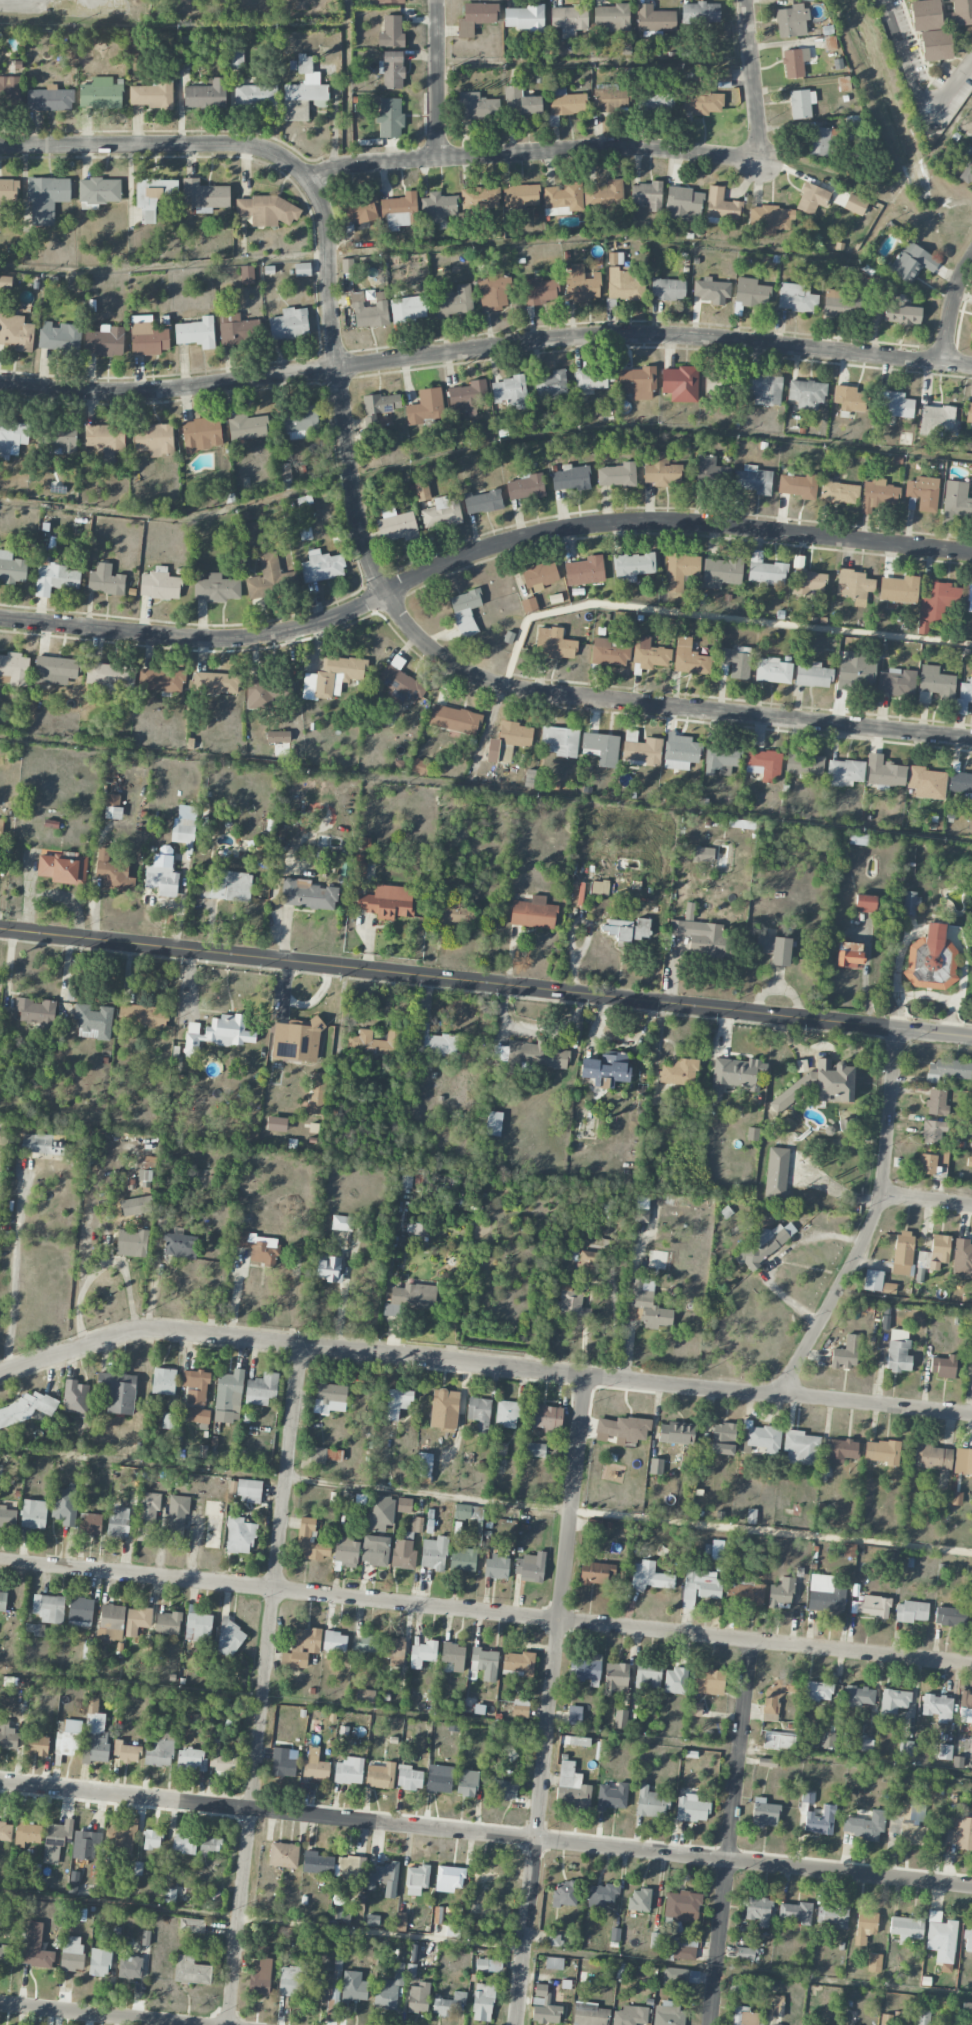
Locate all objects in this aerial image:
building: (812, 0)
road: (18, 1)
building: (391, 1)
building: (700, 12)
building: (960, 12)
building: (925, 15)
building: (475, 17)
building: (569, 17)
building: (611, 17)
building: (524, 18)
building: (654, 19)
building: (790, 21)
road: (185, 27)
building: (391, 31)
building: (935, 45)
building: (185, 52)
building: (794, 62)
road: (595, 63)
building: (392, 70)
building: (721, 75)
road: (439, 79)
road: (753, 81)
building: (844, 83)
road: (911, 85)
building: (9, 88)
building: (303, 93)
building: (100, 94)
building: (152, 94)
building: (206, 94)
building: (255, 95)
building: (511, 98)
building: (610, 98)
building: (49, 99)
building: (656, 101)
building: (566, 102)
building: (801, 103)
building: (703, 104)
building: (530, 105)
building: (476, 108)
building: (390, 117)
building: (553, 121)
building: (819, 141)
road: (535, 152)
building: (99, 190)
building: (8, 191)
building: (647, 195)
building: (153, 196)
building: (204, 196)
building: (564, 196)
building: (520, 197)
building: (604, 197)
building: (46, 198)
building: (480, 198)
building: (811, 198)
building: (683, 204)
building: (855, 204)
building: (721, 205)
building: (439, 206)
building: (361, 210)
building: (398, 210)
building: (269, 211)
building: (768, 220)
road: (535, 241)
building: (615, 258)
building: (911, 263)
building: (348, 266)
building: (302, 269)
building: (246, 274)
building: (625, 283)
building: (581, 284)
building: (667, 289)
building: (711, 290)
building: (538, 291)
building: (492, 292)
building: (751, 292)
building: (796, 298)
building: (455, 302)
building: (845, 304)
road: (951, 307)
building: (408, 308)
building: (369, 311)
building: (903, 313)
building: (289, 324)
building: (237, 329)
building: (15, 332)
building: (196, 333)
building: (59, 337)
building: (148, 339)
building: (104, 341)
road: (485, 348)
building: (592, 377)
building: (637, 382)
building: (551, 384)
building: (680, 384)
building: (721, 385)
building: (764, 388)
building: (510, 391)
building: (807, 394)
building: (466, 397)
building: (849, 399)
building: (381, 403)
building: (896, 405)
building: (425, 407)
building: (969, 413)
building: (937, 420)
building: (298, 422)
building: (247, 427)
building: (201, 434)
building: (12, 437)
building: (104, 437)
building: (61, 438)
building: (153, 439)
road: (483, 448)
building: (709, 470)
building: (662, 471)
building: (432, 472)
building: (971, 474)
building: (617, 475)
building: (285, 476)
building: (571, 478)
building: (753, 480)
building: (798, 485)
building: (526, 486)
building: (838, 492)
building: (923, 493)
building: (878, 495)
building: (957, 499)
building: (483, 502)
building: (441, 513)
building: (396, 525)
building: (250, 534)
road: (362, 538)
road: (479, 551)
building: (632, 566)
building: (322, 567)
building: (11, 568)
building: (680, 570)
building: (585, 571)
building: (721, 571)
building: (765, 571)
building: (58, 576)
building: (540, 576)
building: (265, 577)
building: (105, 580)
building: (809, 581)
building: (159, 584)
building: (854, 585)
building: (216, 588)
building: (899, 589)
building: (969, 598)
building: (936, 604)
building: (529, 605)
building: (465, 611)
road: (659, 612)
building: (554, 643)
building: (608, 652)
building: (650, 654)
building: (689, 658)
building: (735, 661)
building: (14, 669)
building: (55, 670)
building: (772, 671)
building: (813, 675)
building: (110, 676)
building: (333, 677)
building: (855, 677)
building: (161, 680)
building: (896, 682)
building: (215, 683)
building: (400, 684)
building: (935, 684)
building: (259, 690)
building: (964, 696)
building: (454, 719)
building: (278, 736)
building: (512, 739)
building: (560, 741)
building: (601, 748)
building: (643, 752)
building: (680, 752)
building: (721, 758)
building: (764, 764)
building: (804, 765)
building: (419, 766)
building: (844, 772)
building: (884, 772)
building: (960, 782)
building: (926, 783)
road: (485, 788)
building: (112, 801)
building: (185, 826)
building: (0, 829)
building: (703, 854)
building: (359, 866)
building: (113, 872)
building: (162, 880)
building: (225, 885)
building: (599, 887)
building: (307, 894)
building: (387, 902)
building: (910, 902)
building: (865, 903)
building: (457, 912)
building: (533, 913)
building: (630, 929)
building: (698, 933)
building: (773, 948)
building: (849, 955)
building: (931, 959)
road: (485, 985)
building: (36, 1012)
building: (143, 1015)
building: (93, 1022)
building: (218, 1033)
building: (296, 1040)
building: (436, 1042)
building: (375, 1043)
building: (532, 1055)
building: (605, 1070)
building: (948, 1070)
building: (678, 1072)
building: (735, 1075)
building: (833, 1081)
building: (793, 1092)
building: (317, 1093)
building: (936, 1102)
building: (493, 1123)
building: (276, 1124)
building: (933, 1131)
building: (752, 1134)
building: (40, 1144)
building: (932, 1160)
building: (150, 1163)
building: (776, 1173)
road: (926, 1200)
building: (136, 1206)
building: (642, 1210)
road: (873, 1222)
building: (342, 1223)
building: (132, 1243)
building: (763, 1244)
building: (180, 1246)
building: (940, 1248)
building: (266, 1250)
building: (902, 1252)
building: (962, 1258)
building: (589, 1263)
road: (14, 1265)
building: (329, 1269)
building: (872, 1280)
building: (888, 1288)
building: (410, 1298)
building: (572, 1304)
road: (903, 1304)
building: (647, 1305)
building: (898, 1351)
building: (845, 1353)
road: (482, 1364)
building: (943, 1366)
building: (163, 1381)
building: (196, 1386)
building: (261, 1389)
building: (118, 1391)
building: (228, 1396)
building: (74, 1397)
building: (330, 1398)
building: (398, 1402)
building: (28, 1408)
building: (444, 1408)
building: (479, 1413)
building: (506, 1414)
building: (198, 1415)
building: (546, 1418)
building: (168, 1421)
building: (622, 1429)
building: (676, 1433)
building: (722, 1438)
building: (764, 1438)
building: (800, 1448)
building: (499, 1449)
building: (535, 1449)
building: (841, 1450)
building: (881, 1452)
building: (325, 1455)
building: (933, 1457)
building: (963, 1462)
building: (425, 1463)
building: (656, 1466)
building: (246, 1490)
road: (496, 1502)
building: (404, 1505)
building: (65, 1506)
building: (381, 1510)
building: (468, 1512)
building: (33, 1514)
building: (8, 1516)
building: (147, 1517)
building: (177, 1519)
building: (118, 1520)
building: (90, 1524)
building: (239, 1535)
building: (311, 1541)
building: (347, 1550)
building: (375, 1550)
building: (849, 1550)
building: (434, 1553)
building: (403, 1554)
building: (463, 1559)
building: (497, 1567)
building: (531, 1568)
building: (597, 1573)
building: (648, 1576)
building: (699, 1586)
building: (781, 1593)
building: (744, 1594)
building: (826, 1594)
building: (2, 1600)
building: (873, 1606)
road: (560, 1607)
building: (48, 1608)
road: (486, 1611)
building: (911, 1611)
building: (950, 1616)
building: (137, 1620)
building: (110, 1622)
building: (167, 1623)
building: (198, 1627)
building: (34, 1629)
building: (228, 1638)
building: (334, 1641)
building: (303, 1645)
building: (366, 1645)
building: (394, 1651)
building: (423, 1653)
building: (453, 1655)
building: (519, 1662)
building: (484, 1663)
building: (586, 1667)
building: (648, 1676)
building: (616, 1678)
building: (674, 1681)
building: (708, 1682)
road: (265, 1685)
building: (817, 1691)
building: (365, 1696)
building: (776, 1696)
building: (859, 1696)
building: (895, 1700)
building: (937, 1707)
building: (520, 1708)
building: (694, 1709)
building: (965, 1709)
building: (574, 1715)
building: (620, 1719)
road: (485, 1722)
building: (7, 1736)
building: (67, 1737)
building: (95, 1739)
building: (827, 1739)
building: (779, 1741)
building: (37, 1745)
building: (905, 1748)
building: (125, 1751)
building: (944, 1752)
building: (159, 1753)
building: (191, 1759)
building: (222, 1759)
building: (284, 1762)
building: (767, 1763)
building: (315, 1765)
building: (348, 1771)
building: (380, 1775)
building: (408, 1778)
building: (439, 1779)
building: (466, 1783)
building: (571, 1786)
building: (504, 1790)
building: (612, 1797)
building: (650, 1803)
building: (691, 1808)
road: (268, 1811)
building: (764, 1813)
building: (820, 1821)
building: (911, 1821)
building: (865, 1826)
building: (5, 1831)
road: (729, 1832)
building: (28, 1833)
building: (960, 1833)
building: (122, 1836)
building: (152, 1839)
building: (56, 1840)
building: (184, 1843)
building: (83, 1845)
building: (209, 1845)
building: (283, 1855)
road: (755, 1862)
building: (317, 1863)
building: (350, 1872)
building: (384, 1878)
building: (416, 1879)
building: (450, 1879)
building: (565, 1894)
building: (601, 1895)
building: (639, 1900)
building: (682, 1906)
building: (757, 1910)
building: (795, 1912)
building: (833, 1915)
building: (191, 1925)
building: (865, 1926)
building: (907, 1928)
road: (527, 1932)
building: (969, 1934)
building: (554, 1940)
building: (941, 1940)
road: (485, 1945)
building: (36, 1948)
building: (682, 1948)
building: (71, 1953)
building: (5, 1954)
building: (99, 1962)
building: (874, 1963)
building: (488, 1965)
building: (130, 1967)
building: (191, 1970)
building: (681, 1976)
building: (260, 1977)
building: (290, 1981)
building: (736, 1985)
building: (321, 1986)
building: (353, 1987)
building: (386, 1994)
building: (418, 1998)
building: (483, 2002)
building: (449, 2004)
building: (544, 2006)
building: (775, 2006)
building: (967, 2009)
road: (94, 2014)
building: (589, 2014)
building: (668, 2014)
building: (630, 2015)
building: (742, 2016)
building: (922, 2017)
building: (885, 2019)
building: (775, 2024)

